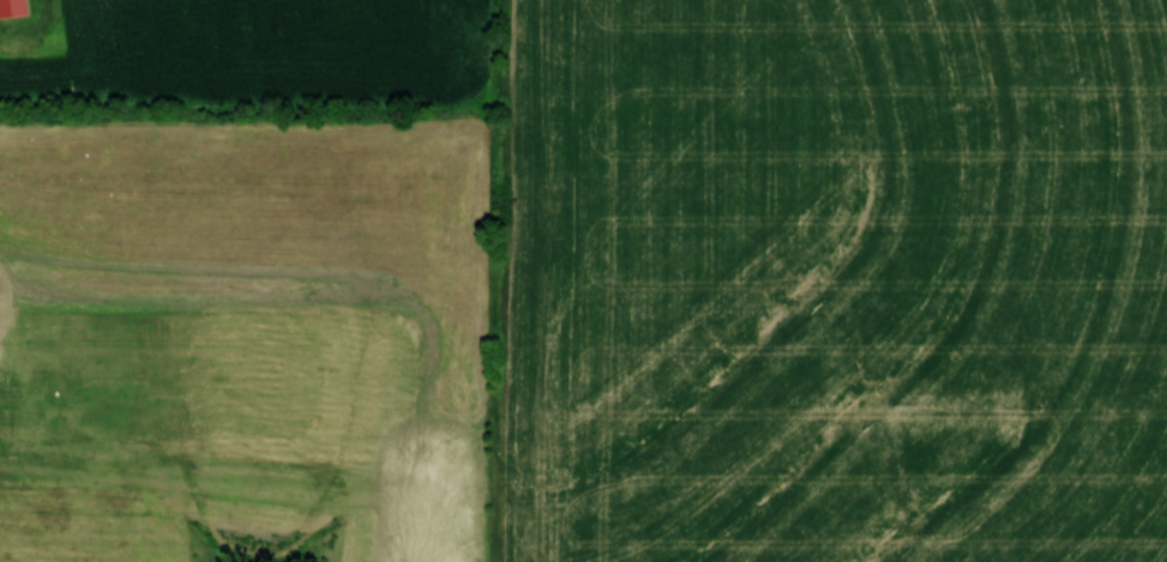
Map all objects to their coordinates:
building: (13, 7)

